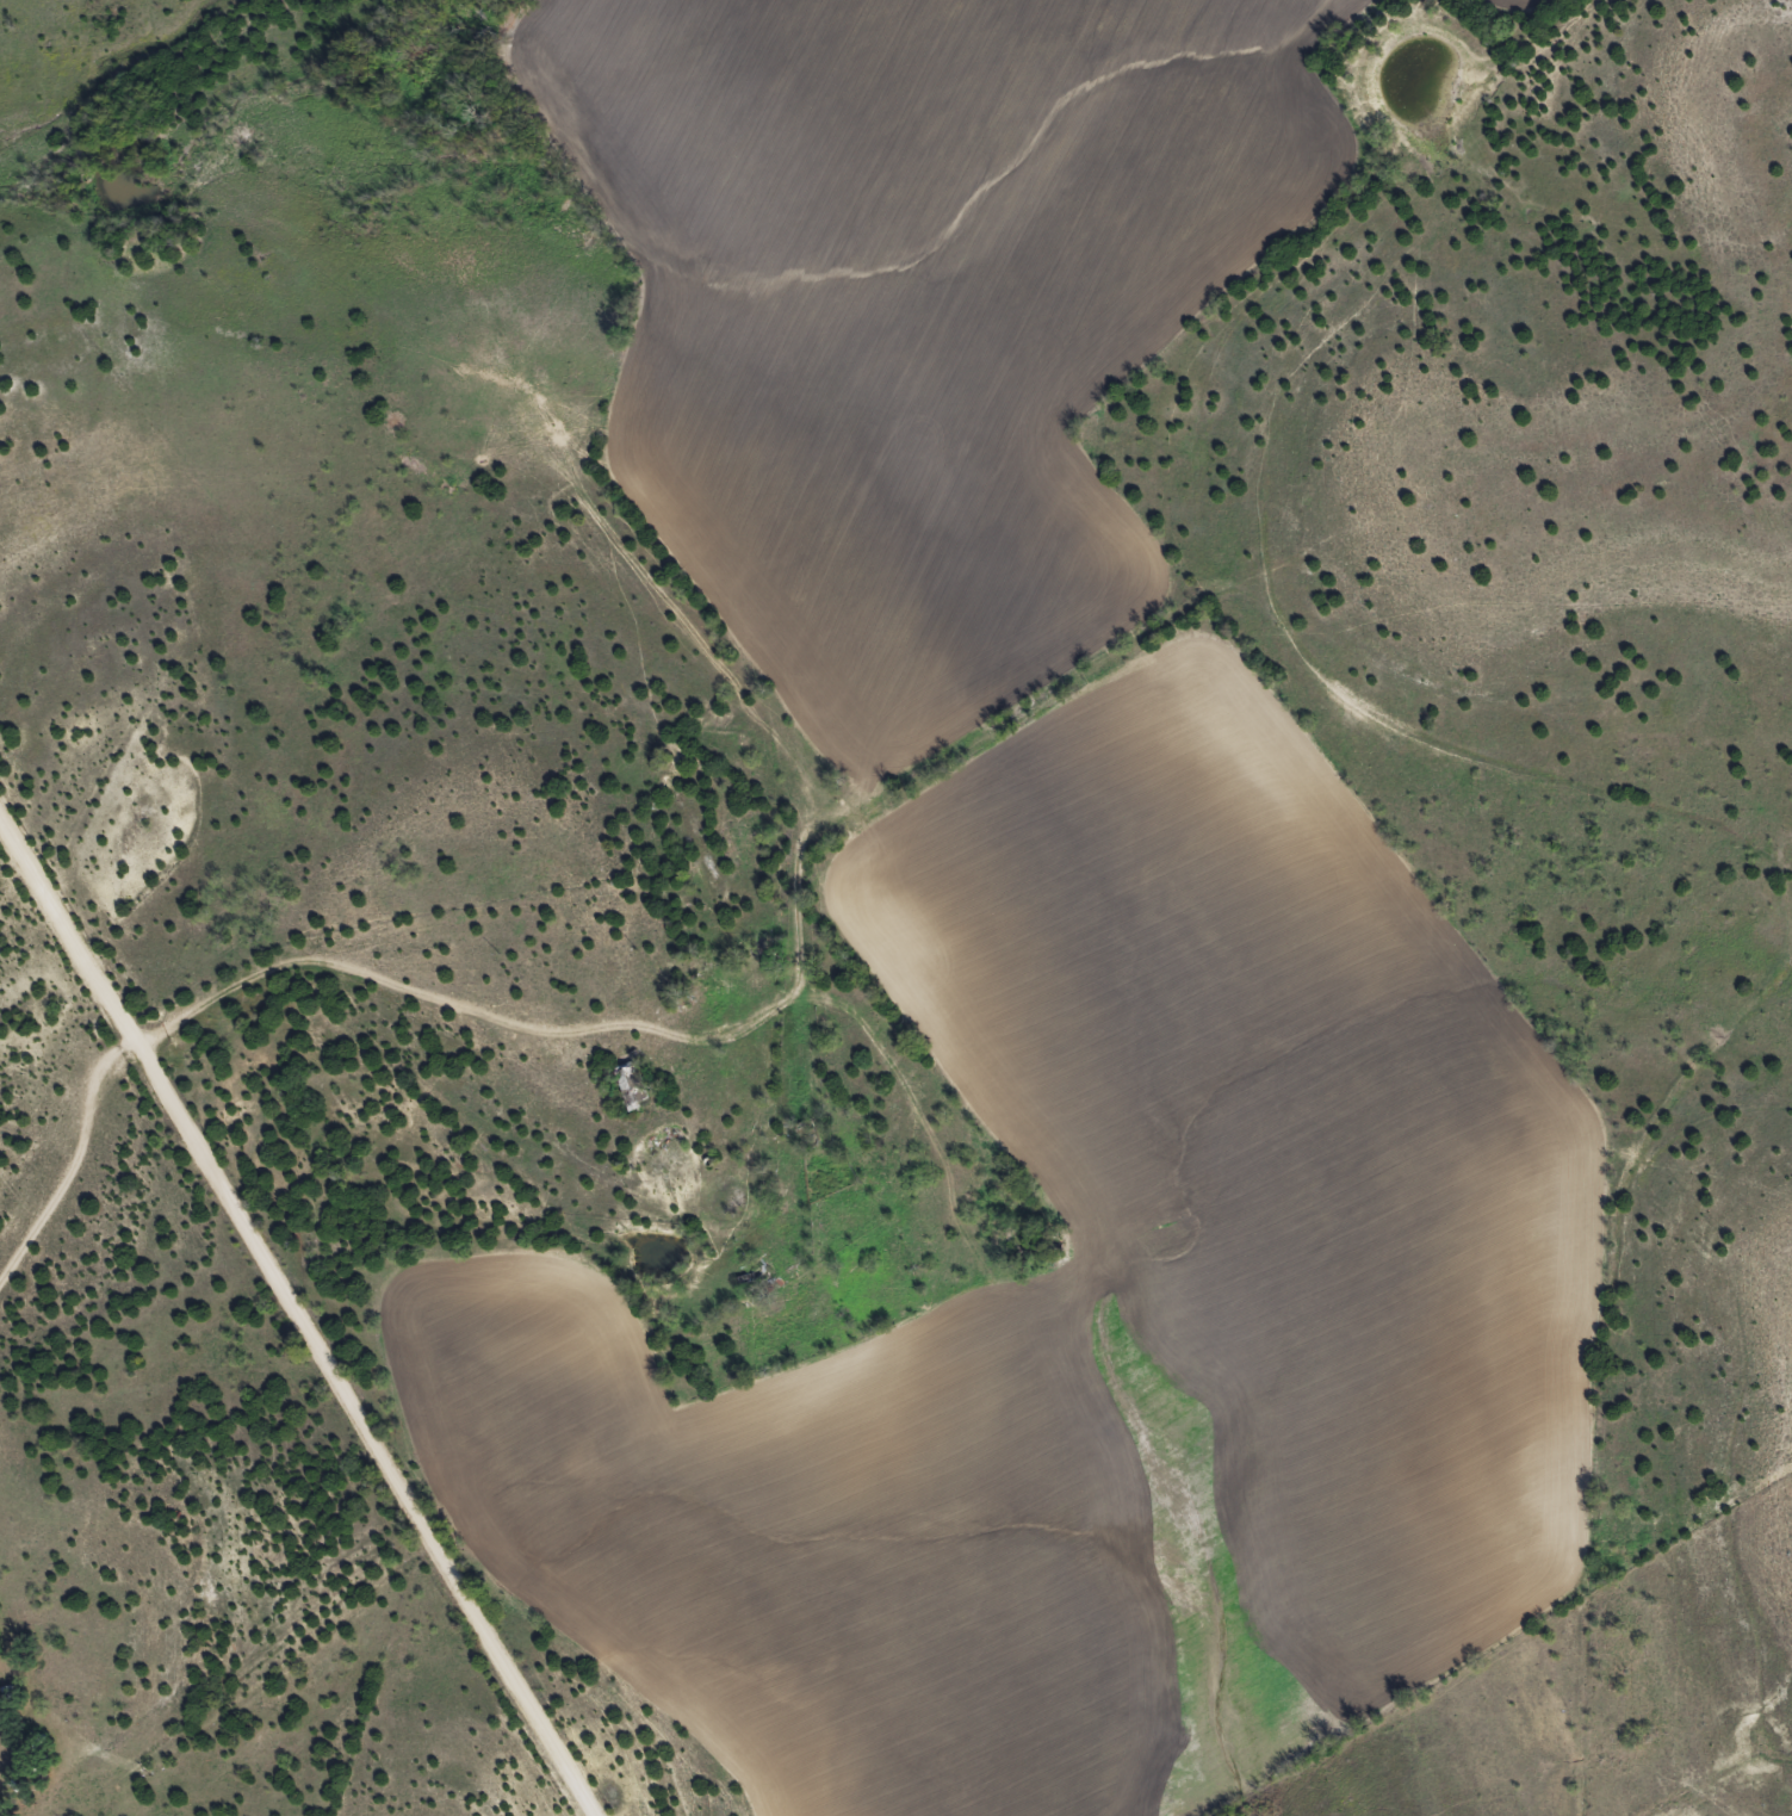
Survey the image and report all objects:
building: (755, 1284)
road: (292, 1326)

